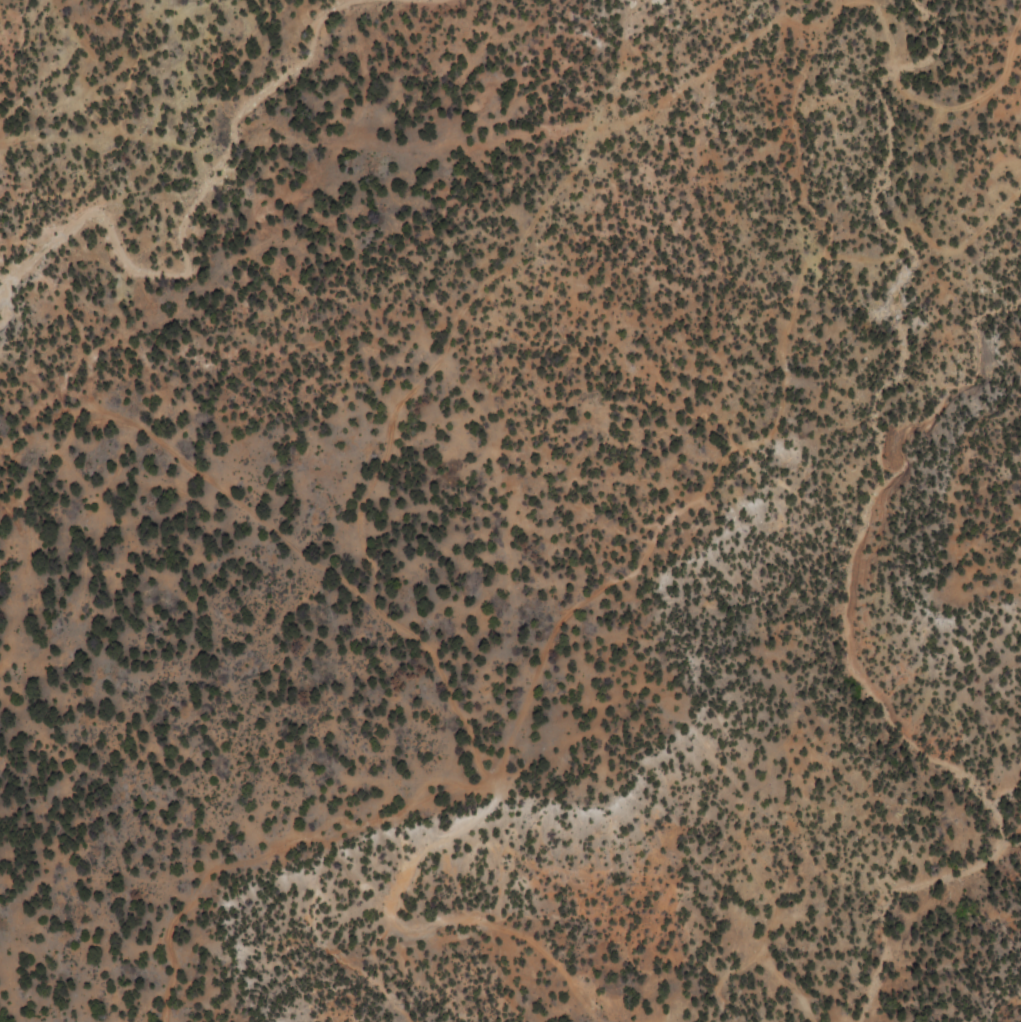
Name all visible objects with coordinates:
road: (821, 25)
road: (250, 80)
road: (918, 100)
road: (514, 129)
road: (99, 138)
road: (124, 267)
road: (441, 354)
road: (44, 406)
road: (747, 445)
road: (37, 467)
road: (466, 725)

